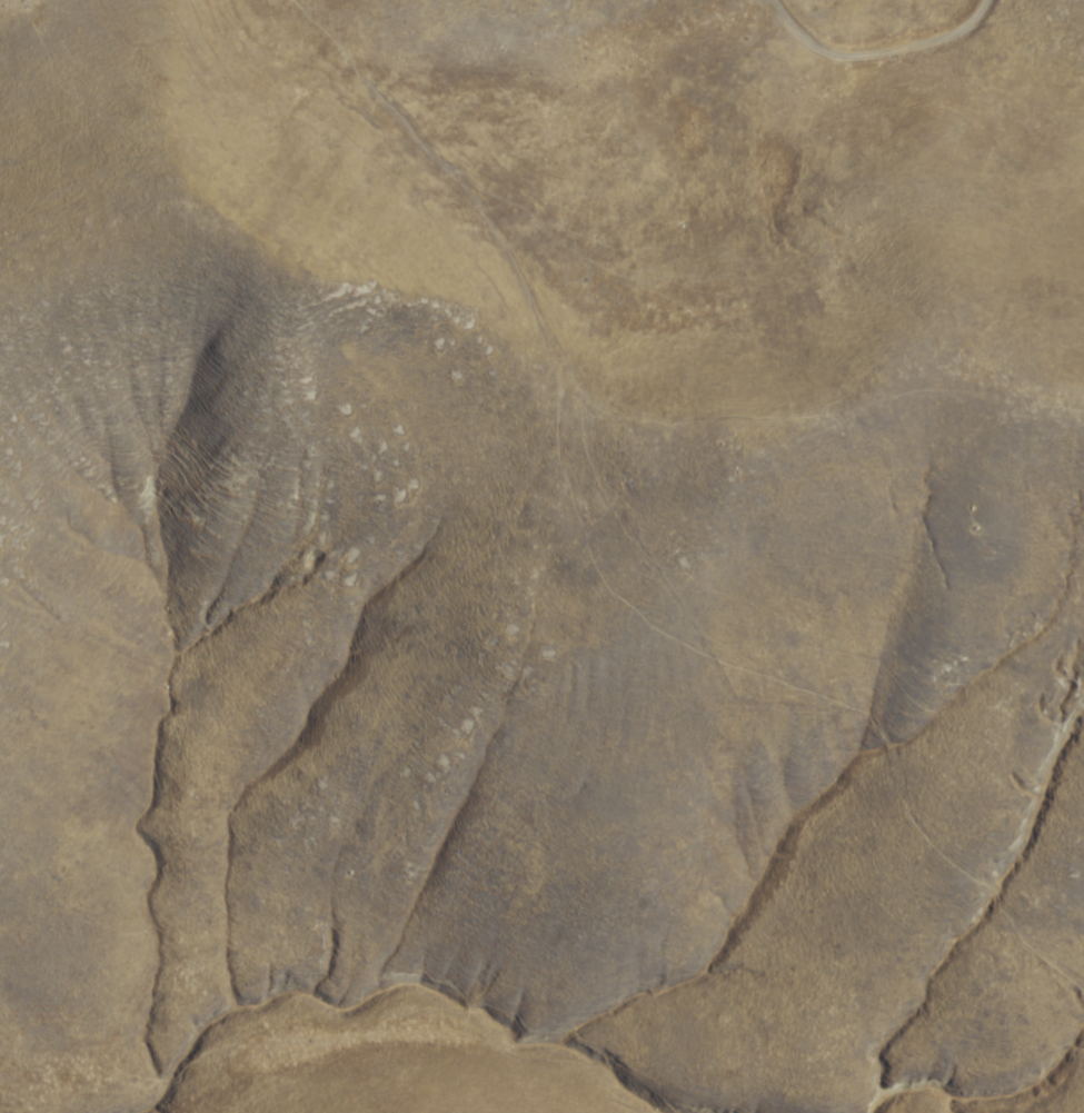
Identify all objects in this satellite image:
road: (886, 85)

